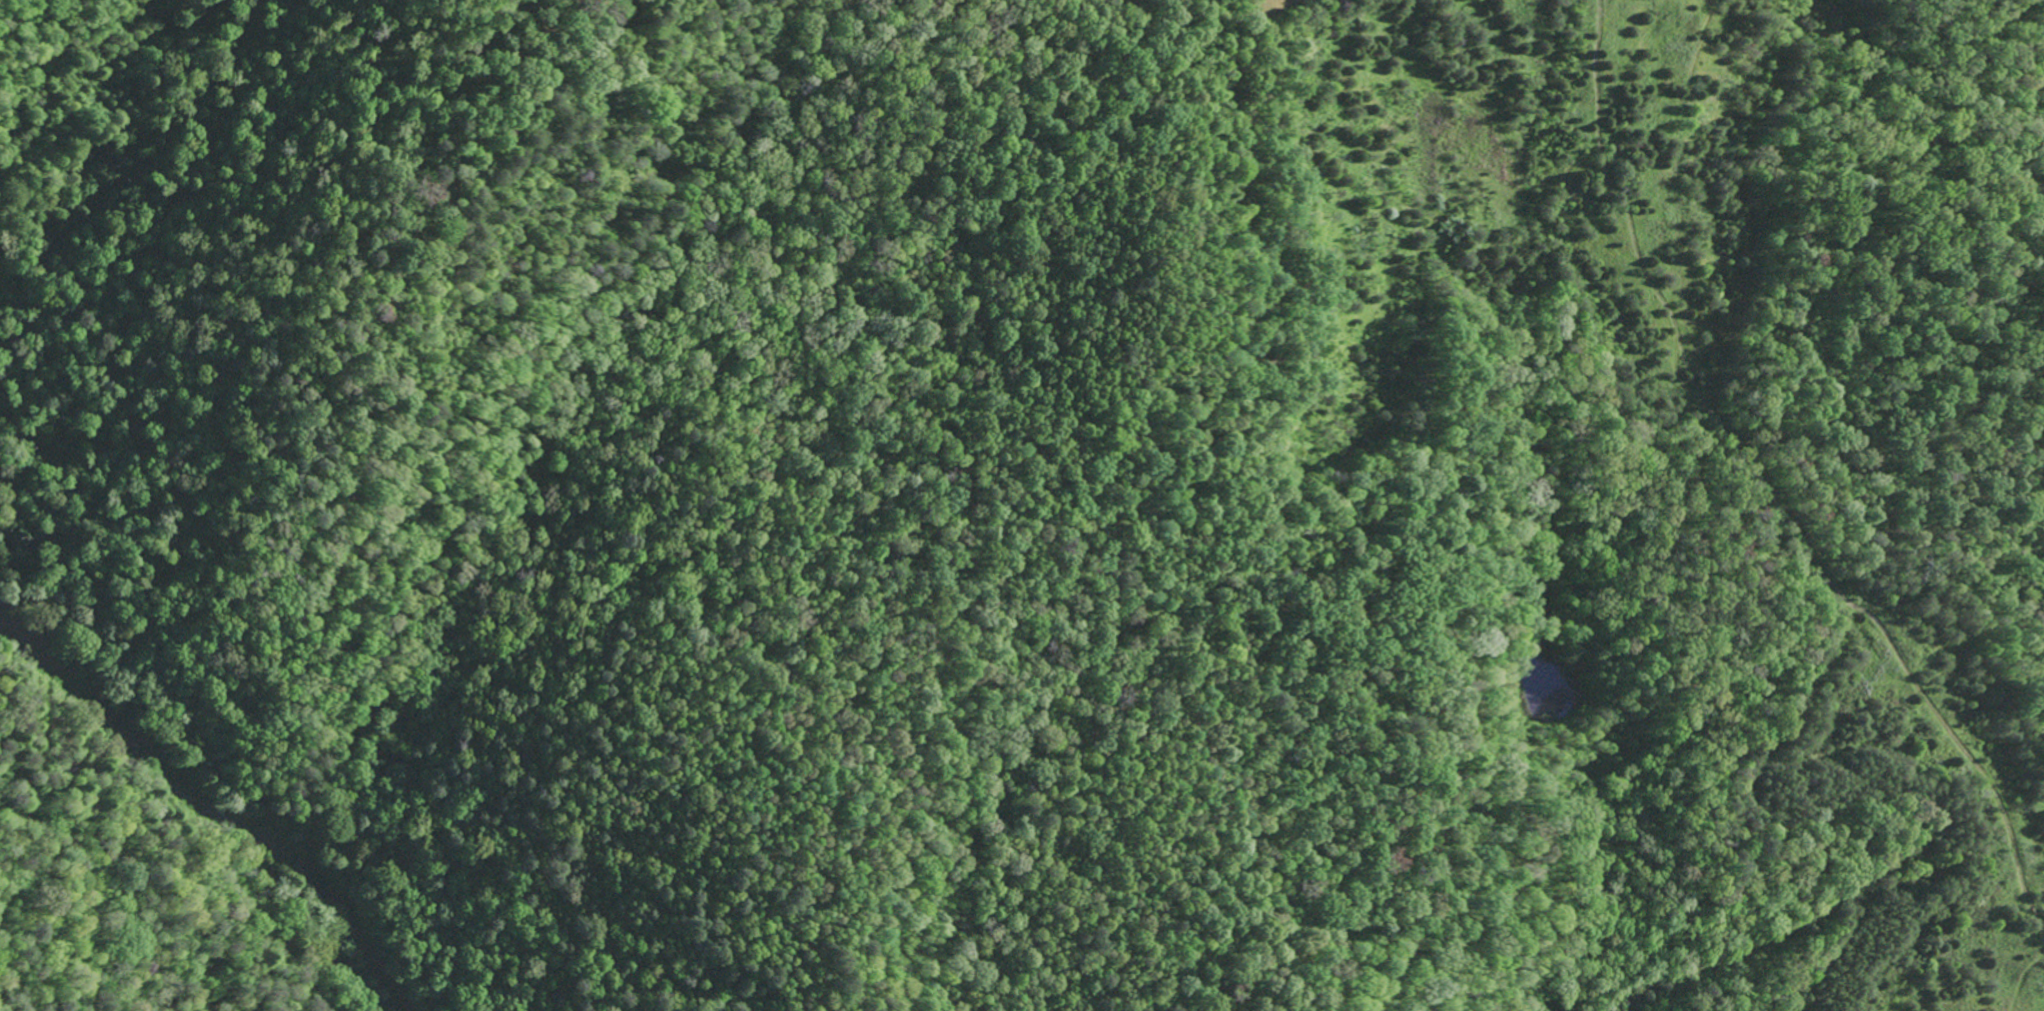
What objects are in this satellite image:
road: (1258, 74)
road: (620, 440)

